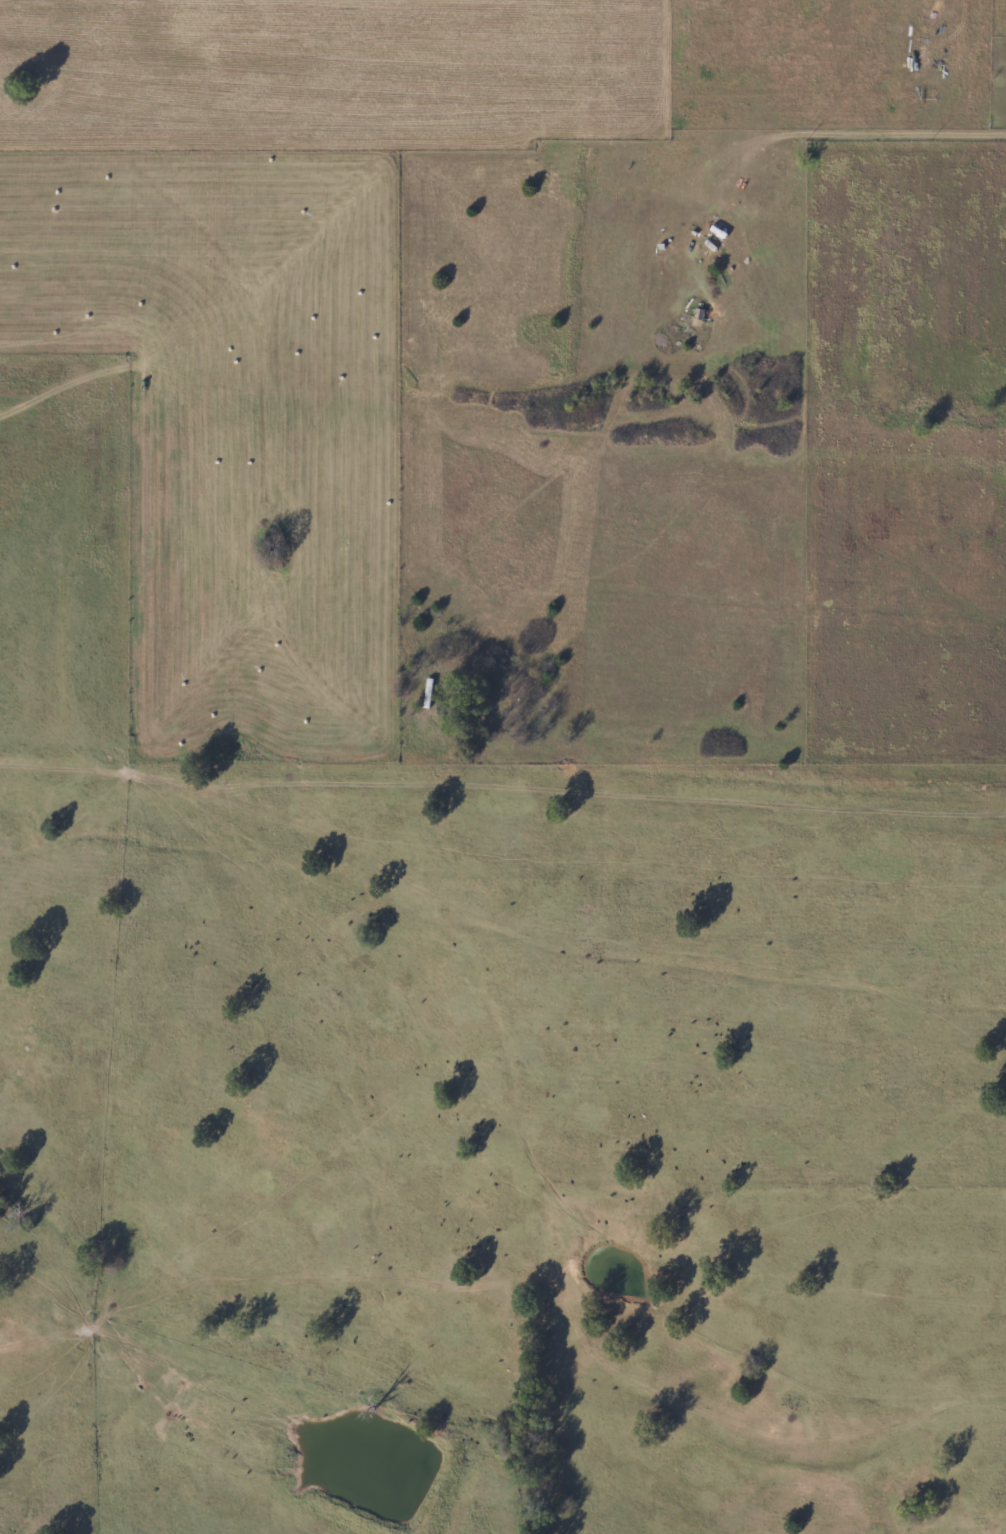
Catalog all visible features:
building: (974, 71)
building: (430, 693)

